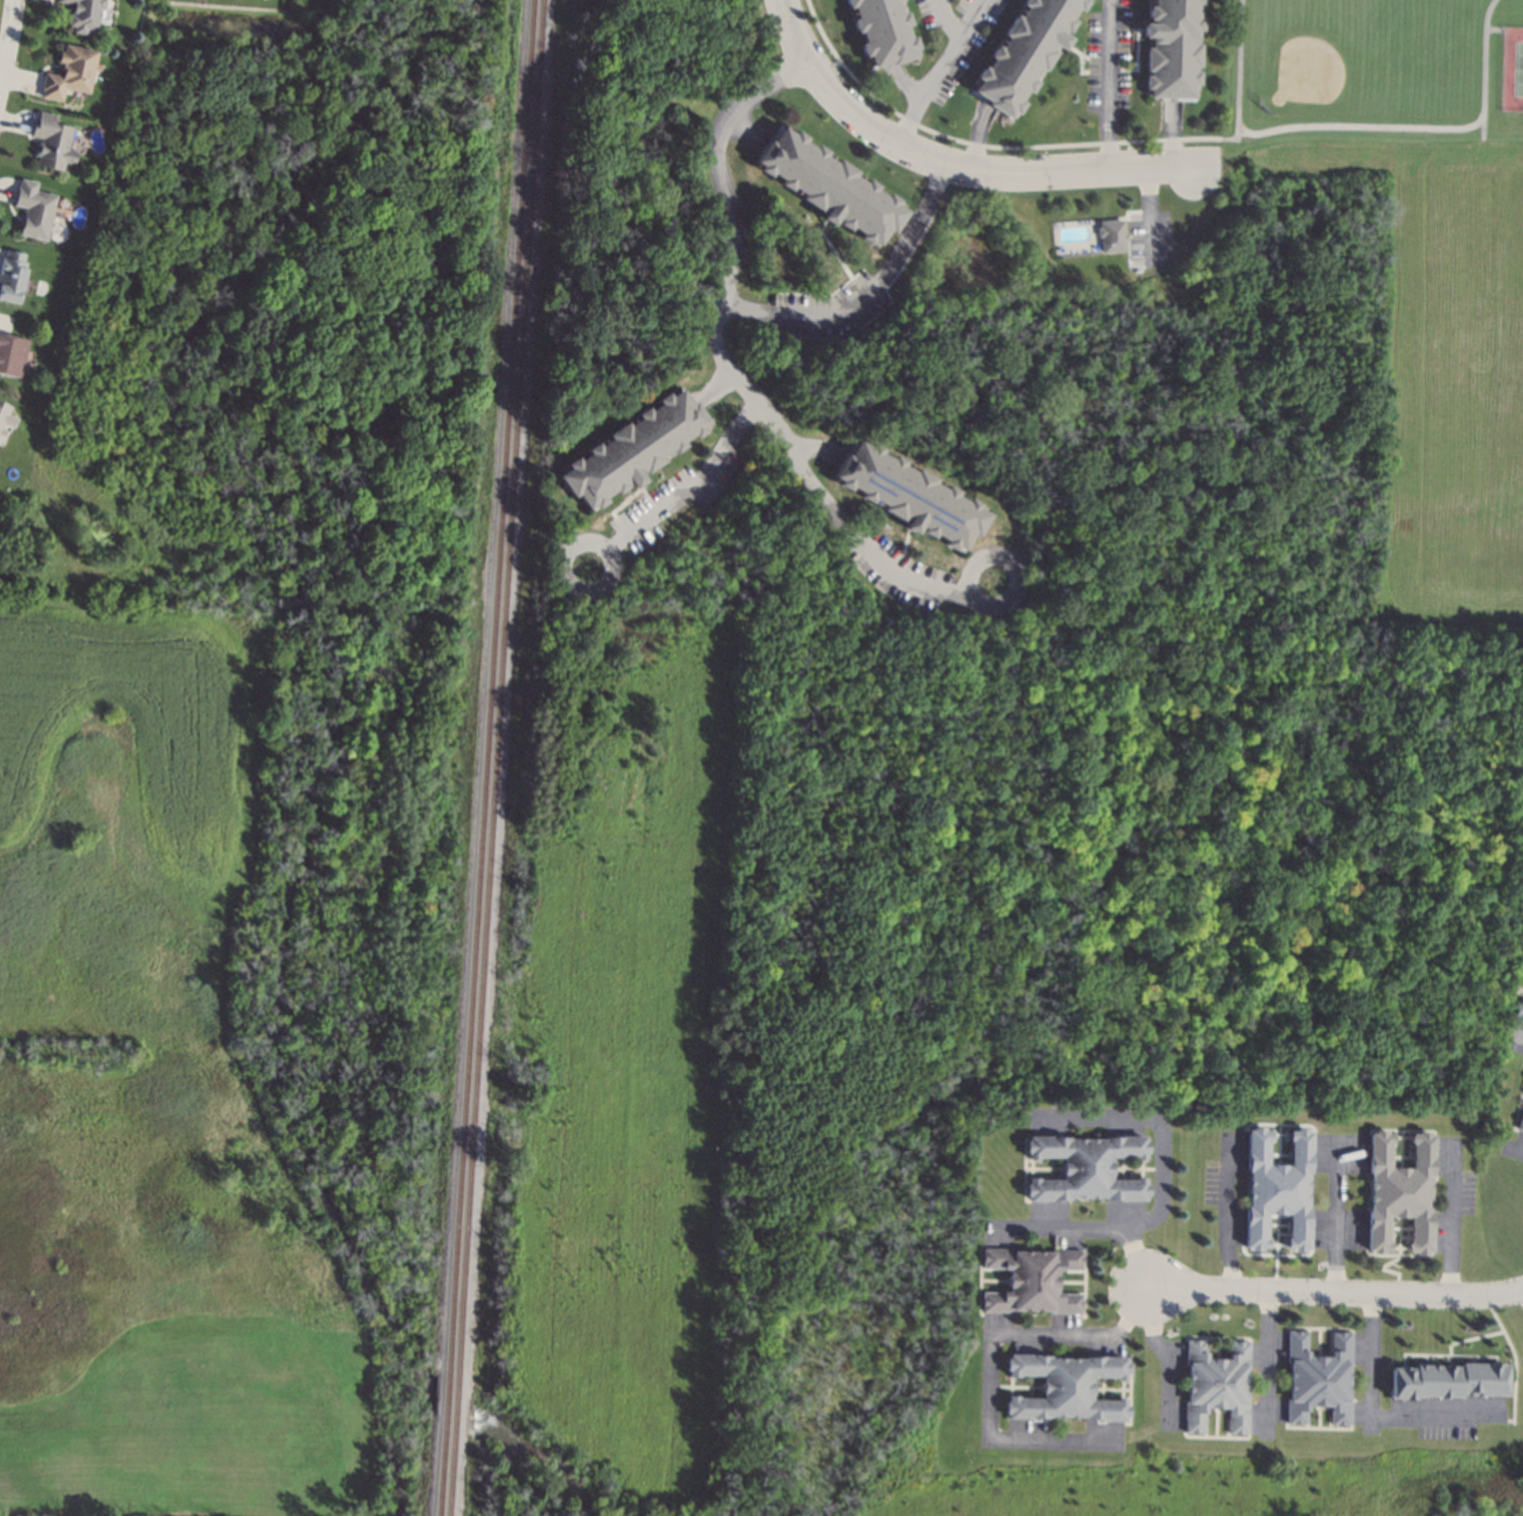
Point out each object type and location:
building: (81, 14)
road: (4, 22)
road: (949, 22)
road: (1494, 28)
building: (881, 30)
building: (1171, 48)
building: (1024, 52)
park: (1327, 59)
road: (812, 61)
road: (830, 67)
park: (1517, 68)
road: (1238, 69)
road: (1484, 69)
park: (1512, 69)
park: (1372, 71)
building: (68, 72)
road: (941, 72)
road: (1110, 84)
road: (1353, 125)
building: (50, 141)
road: (1016, 146)
road: (1020, 173)
building: (828, 186)
building: (33, 209)
road: (1149, 215)
building: (1111, 235)
building: (10, 275)
road: (867, 293)
road: (721, 352)
building: (11, 355)
crop: (1441, 370)
building: (5, 415)
road: (813, 447)
building: (631, 449)
building: (909, 495)
road: (630, 534)
road: (1017, 568)
road: (960, 592)
railway: (485, 758)
railway: (495, 758)
crop: (122, 814)
building: (1522, 970)
building: (1522, 975)
building: (1518, 1010)
park: (988, 1038)
road: (1521, 1047)
building: (1519, 1121)
road: (1157, 1123)
road: (1515, 1153)
building: (1085, 1168)
building: (1276, 1188)
building: (1398, 1192)
road: (1225, 1215)
road: (1336, 1217)
road: (1450, 1220)
road: (1088, 1230)
building: (1029, 1280)
road: (1333, 1292)
road: (1160, 1353)
road: (989, 1360)
road: (1263, 1361)
building: (1317, 1378)
building: (1445, 1380)
building: (1215, 1385)
building: (1065, 1388)
road: (1366, 1415)

